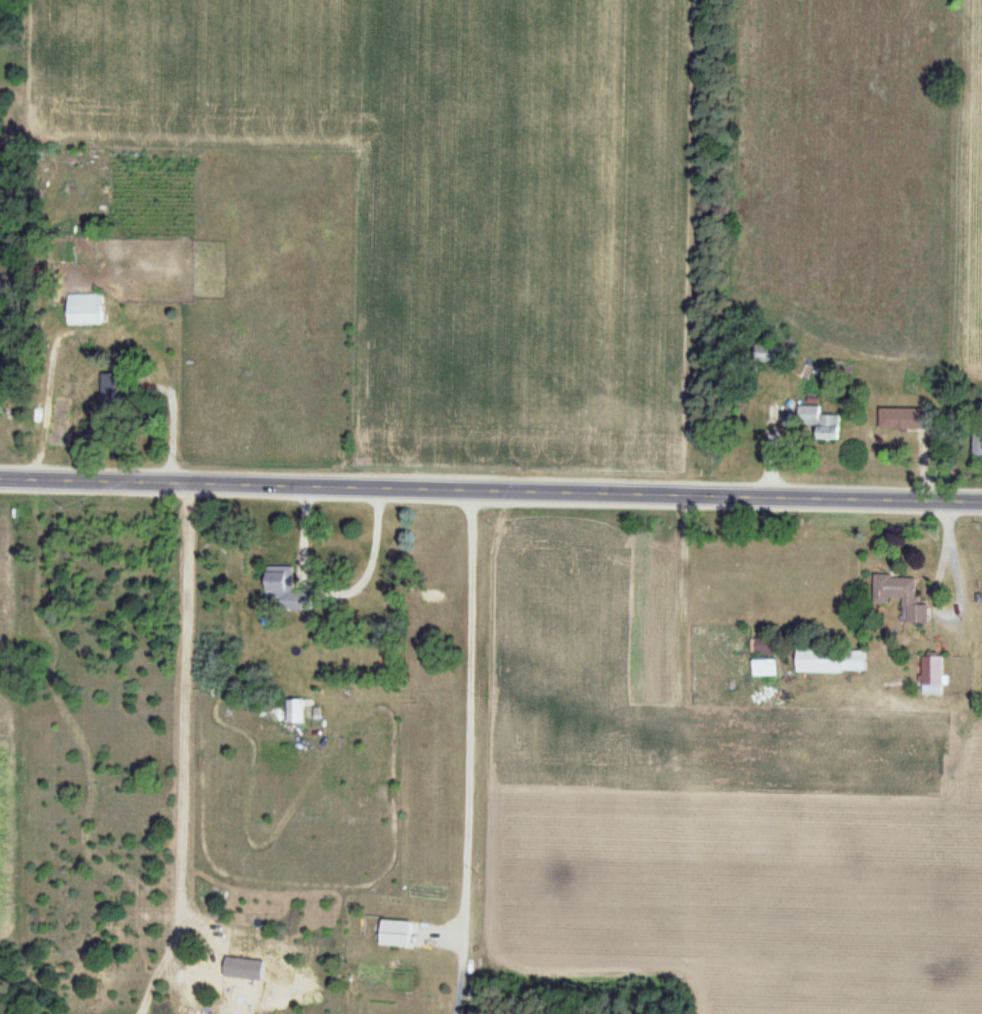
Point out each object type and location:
building: (85, 310)
building: (904, 419)
building: (819, 422)
building: (976, 440)
road: (1, 477)
road: (492, 488)
building: (894, 586)
building: (286, 593)
building: (830, 660)
building: (764, 667)
building: (932, 675)
building: (298, 711)
building: (398, 934)

